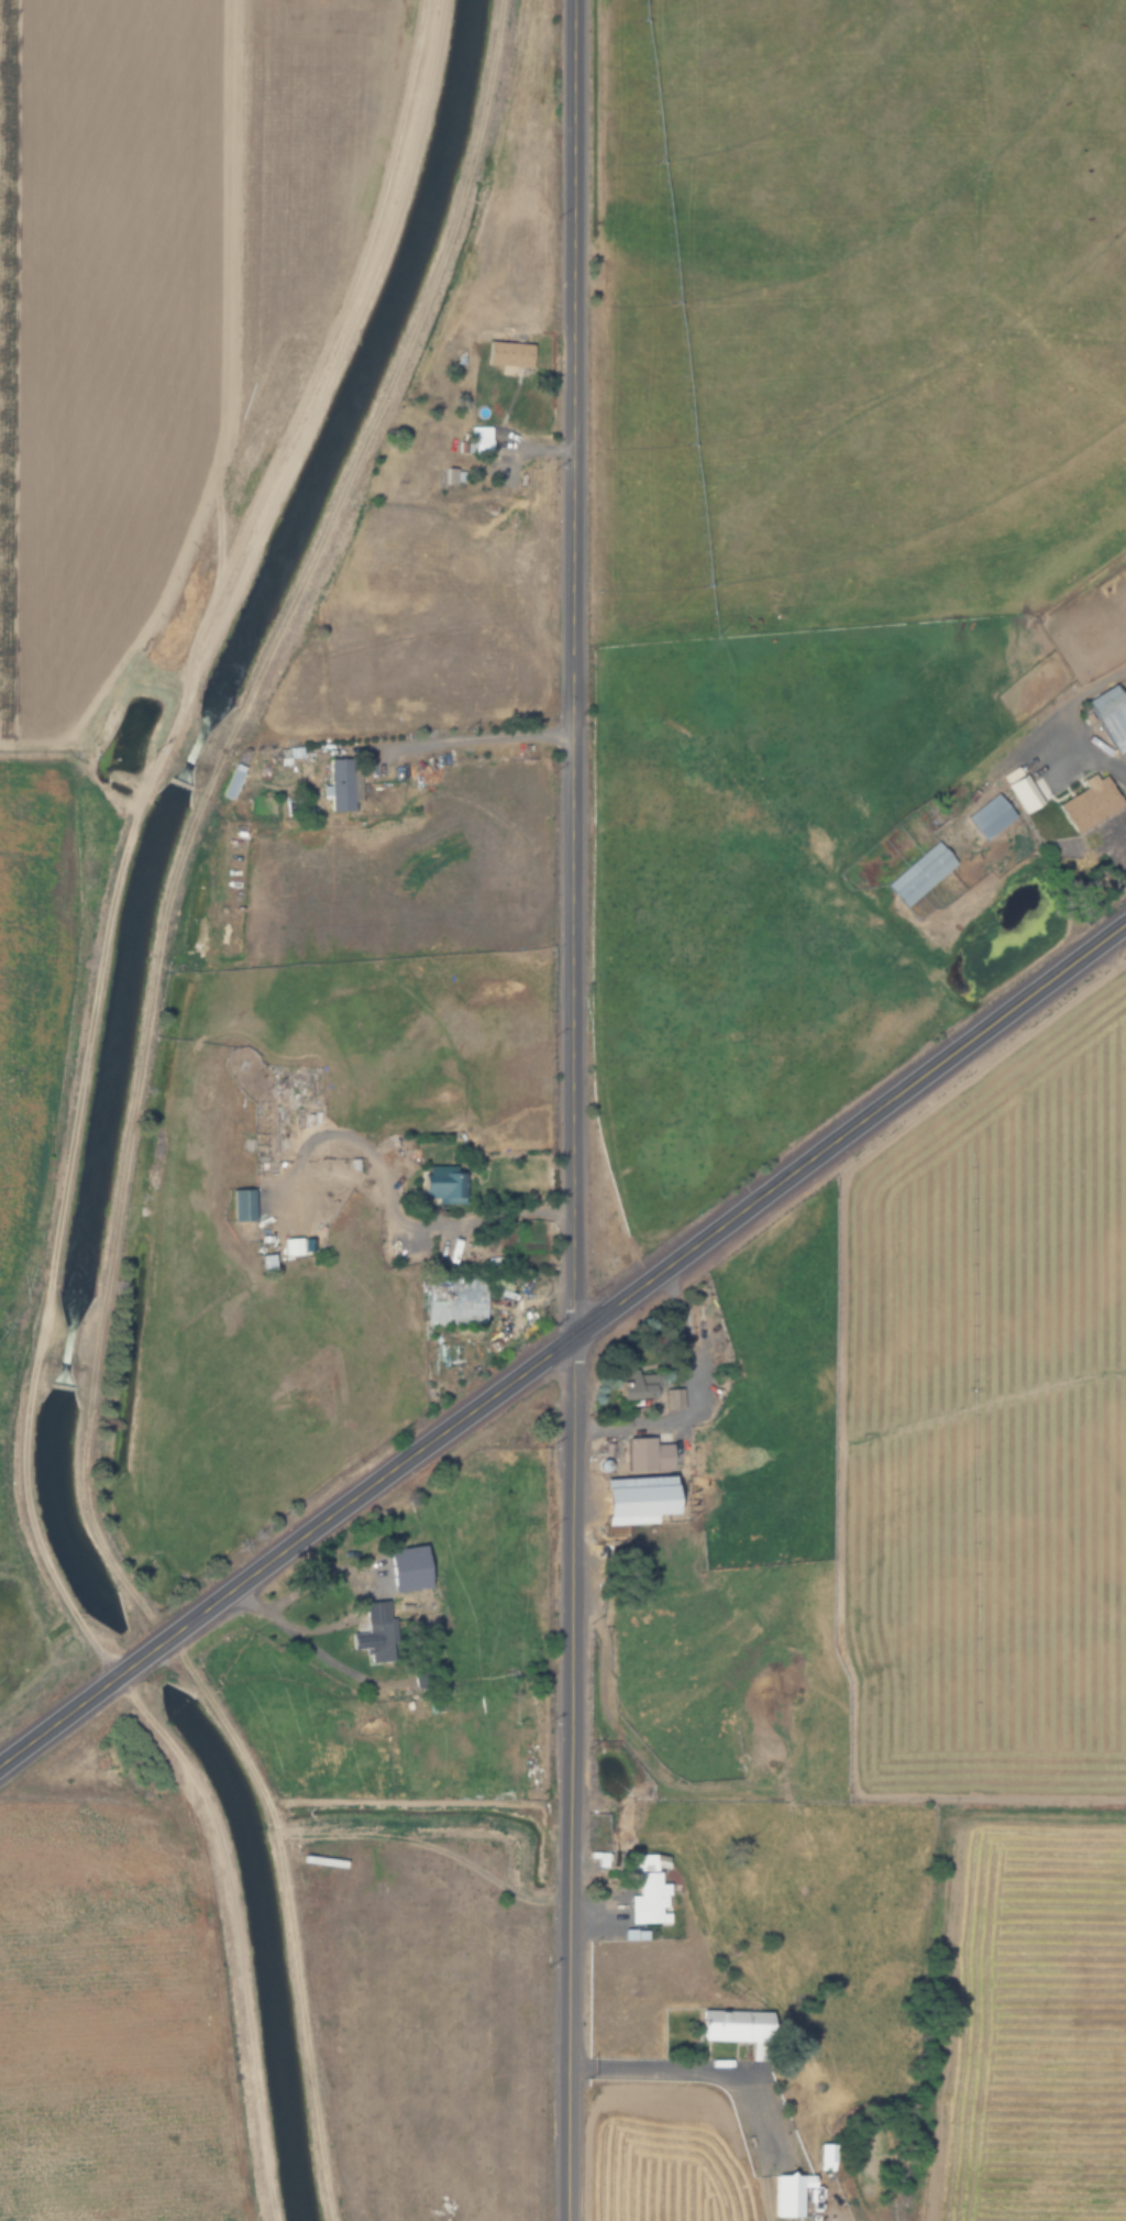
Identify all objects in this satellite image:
crop: (309, 153)
building: (506, 353)
building: (449, 477)
crop: (102, 519)
building: (1110, 715)
road: (461, 732)
road: (1079, 755)
building: (229, 781)
building: (341, 783)
building: (1023, 792)
building: (1086, 803)
road: (194, 807)
building: (987, 815)
building: (1115, 835)
building: (919, 872)
road: (73, 1109)
road: (574, 1110)
building: (440, 1187)
road: (394, 1205)
building: (235, 1206)
building: (286, 1246)
building: (453, 1300)
road: (561, 1342)
building: (645, 1389)
building: (644, 1454)
building: (630, 1499)
building: (402, 1566)
building: (372, 1631)
building: (423, 1671)
crop: (890, 1709)
building: (645, 1900)
building: (728, 2025)
road: (687, 2075)
building: (821, 2156)
building: (785, 2192)

